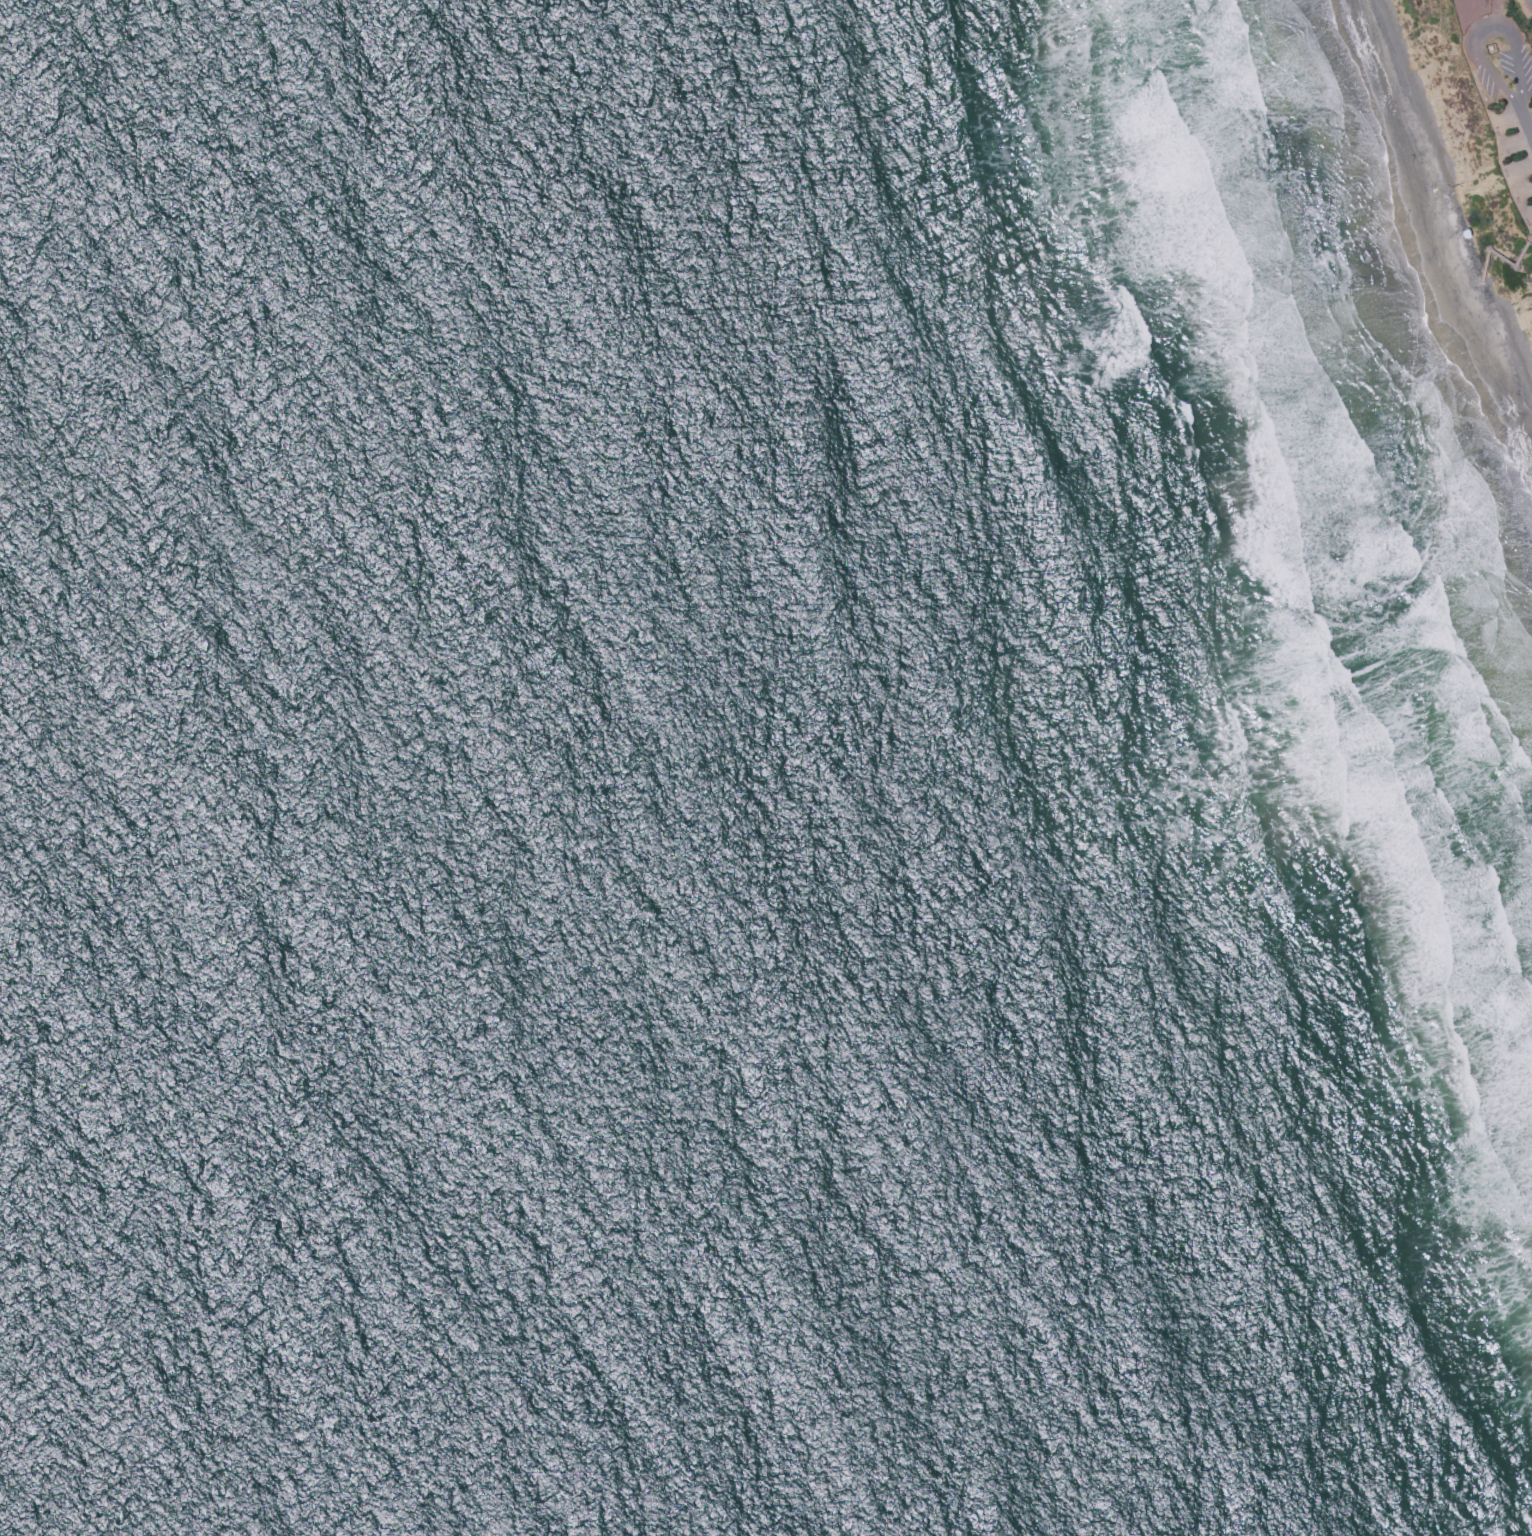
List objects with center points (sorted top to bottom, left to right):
road: (1526, 10)
road: (1496, 12)
road: (1486, 28)
parking lot: (1506, 38)
road: (1525, 126)
road: (1530, 237)

